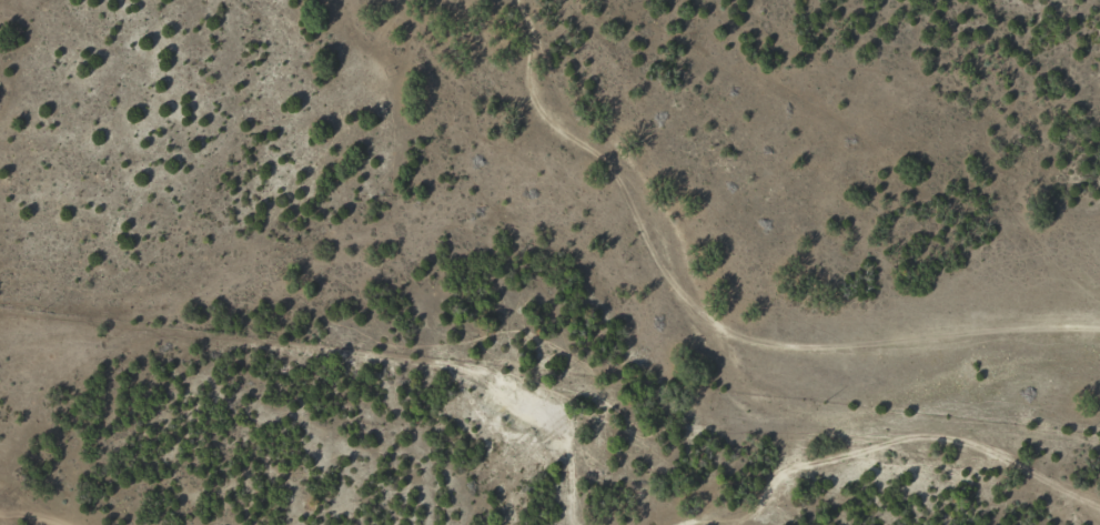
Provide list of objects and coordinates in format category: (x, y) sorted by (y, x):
road: (700, 363)

